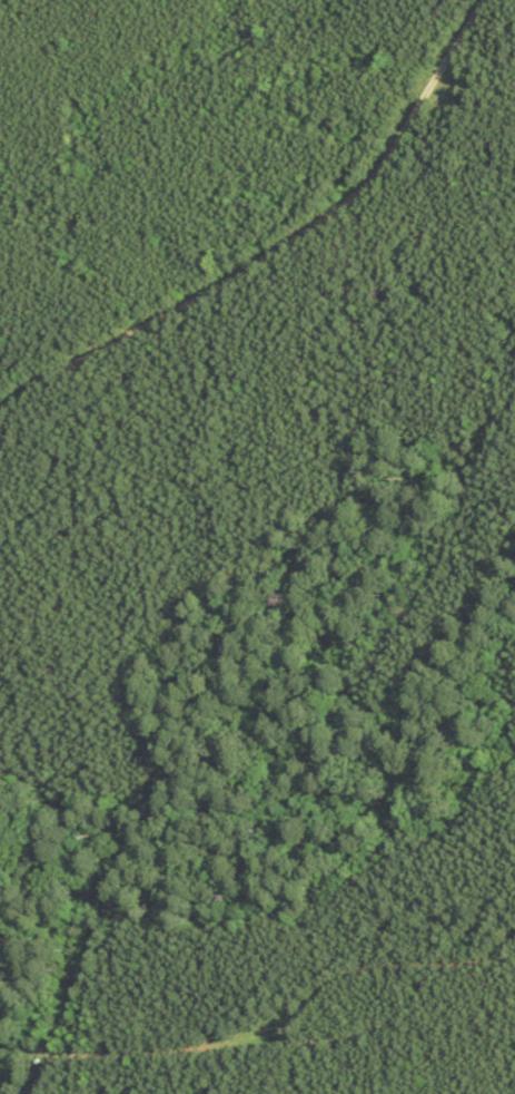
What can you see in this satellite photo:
road: (263, 266)

